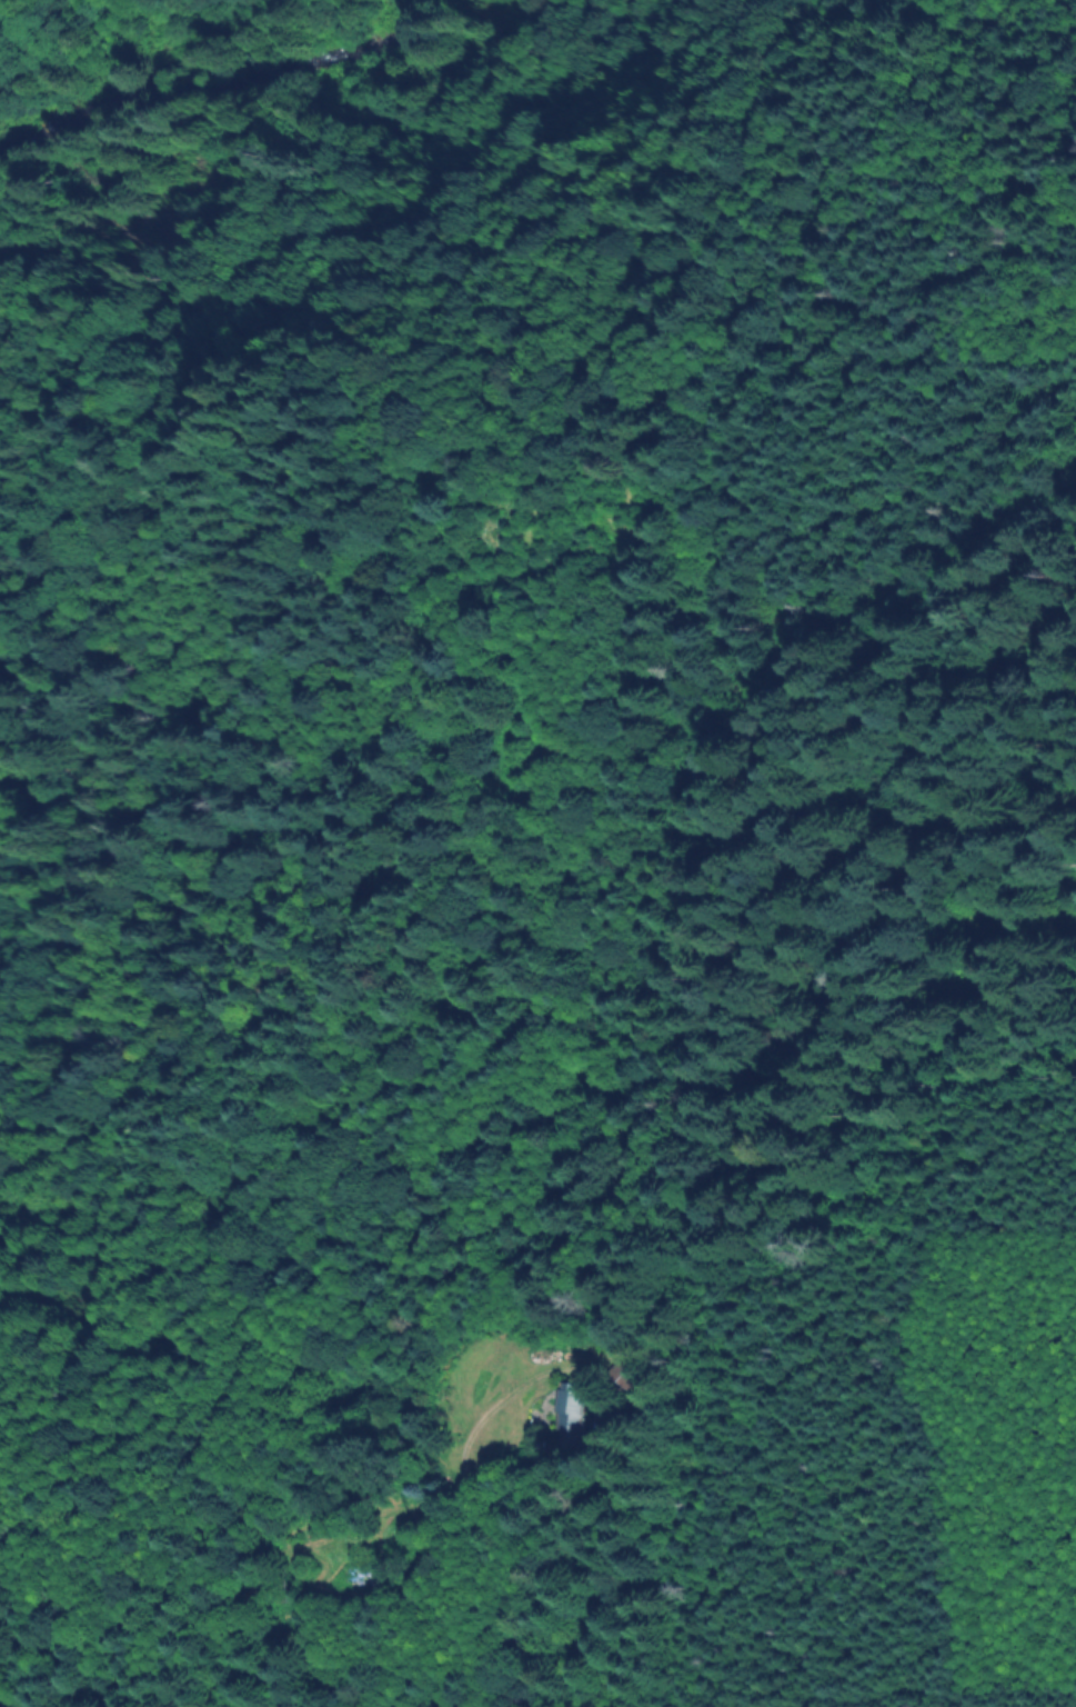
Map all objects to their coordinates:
building: (625, 1374)
building: (571, 1416)
building: (279, 1593)

